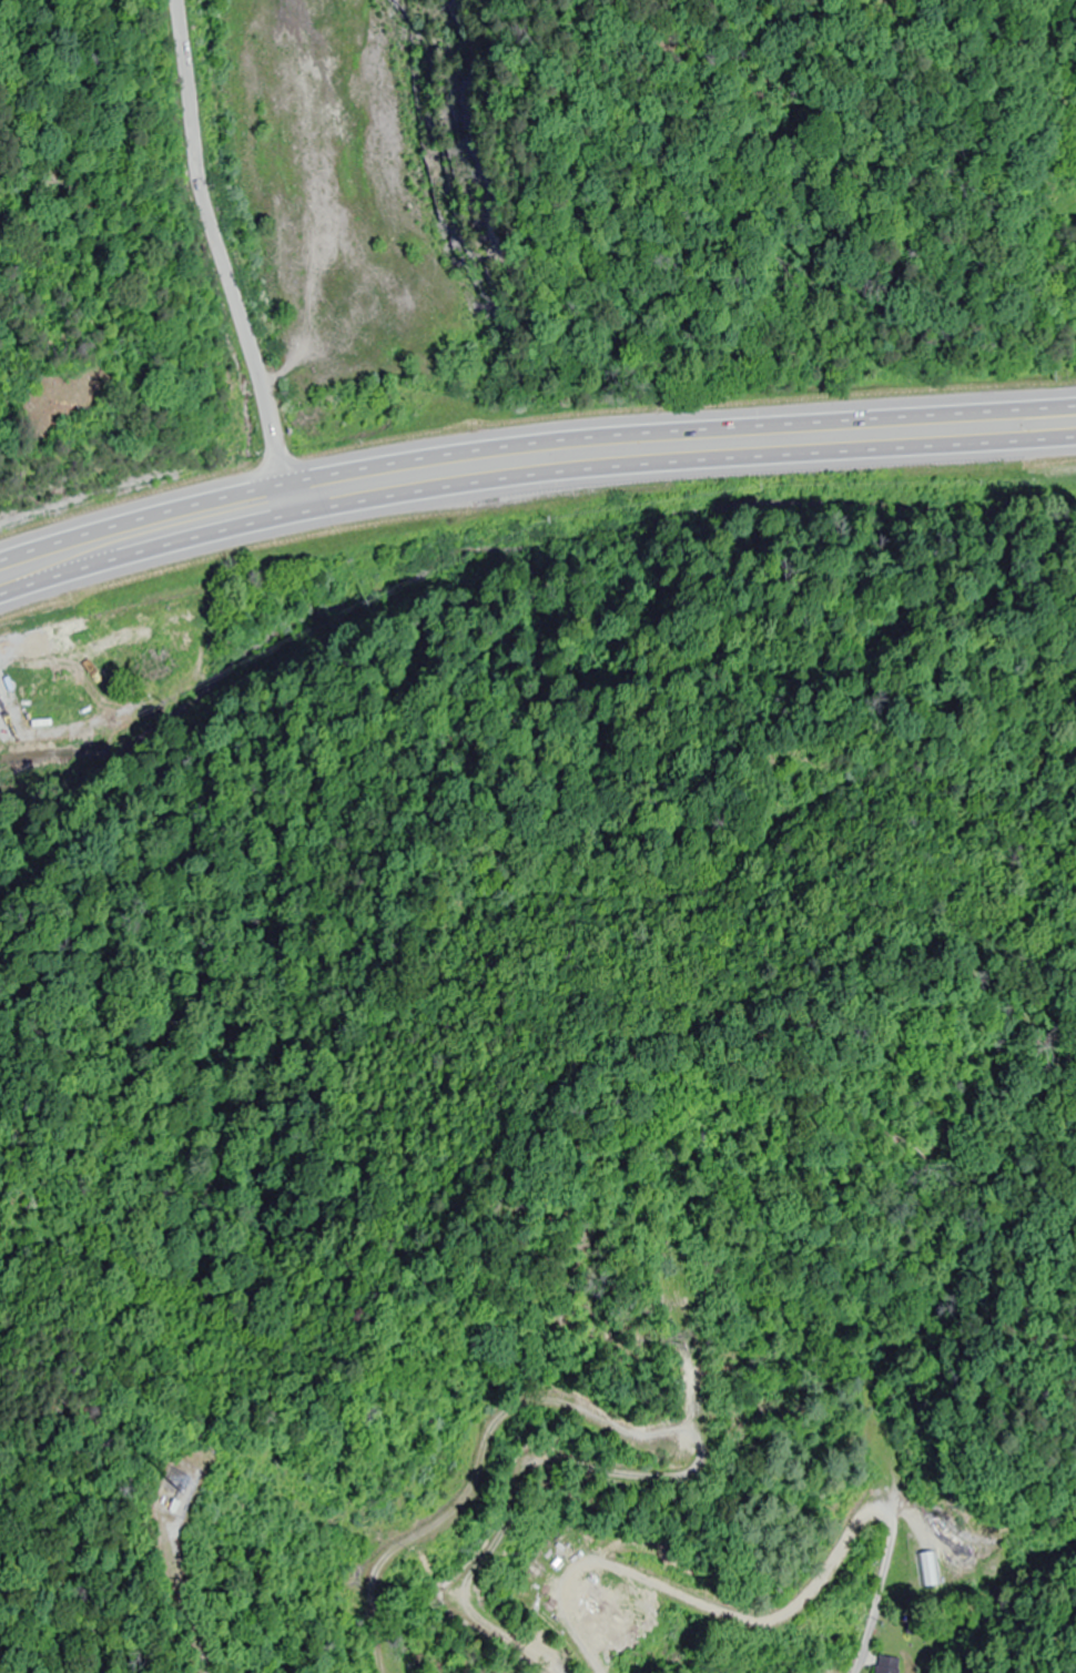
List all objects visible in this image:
road: (531, 447)
road: (531, 476)
road: (847, 1649)
building: (887, 1664)

